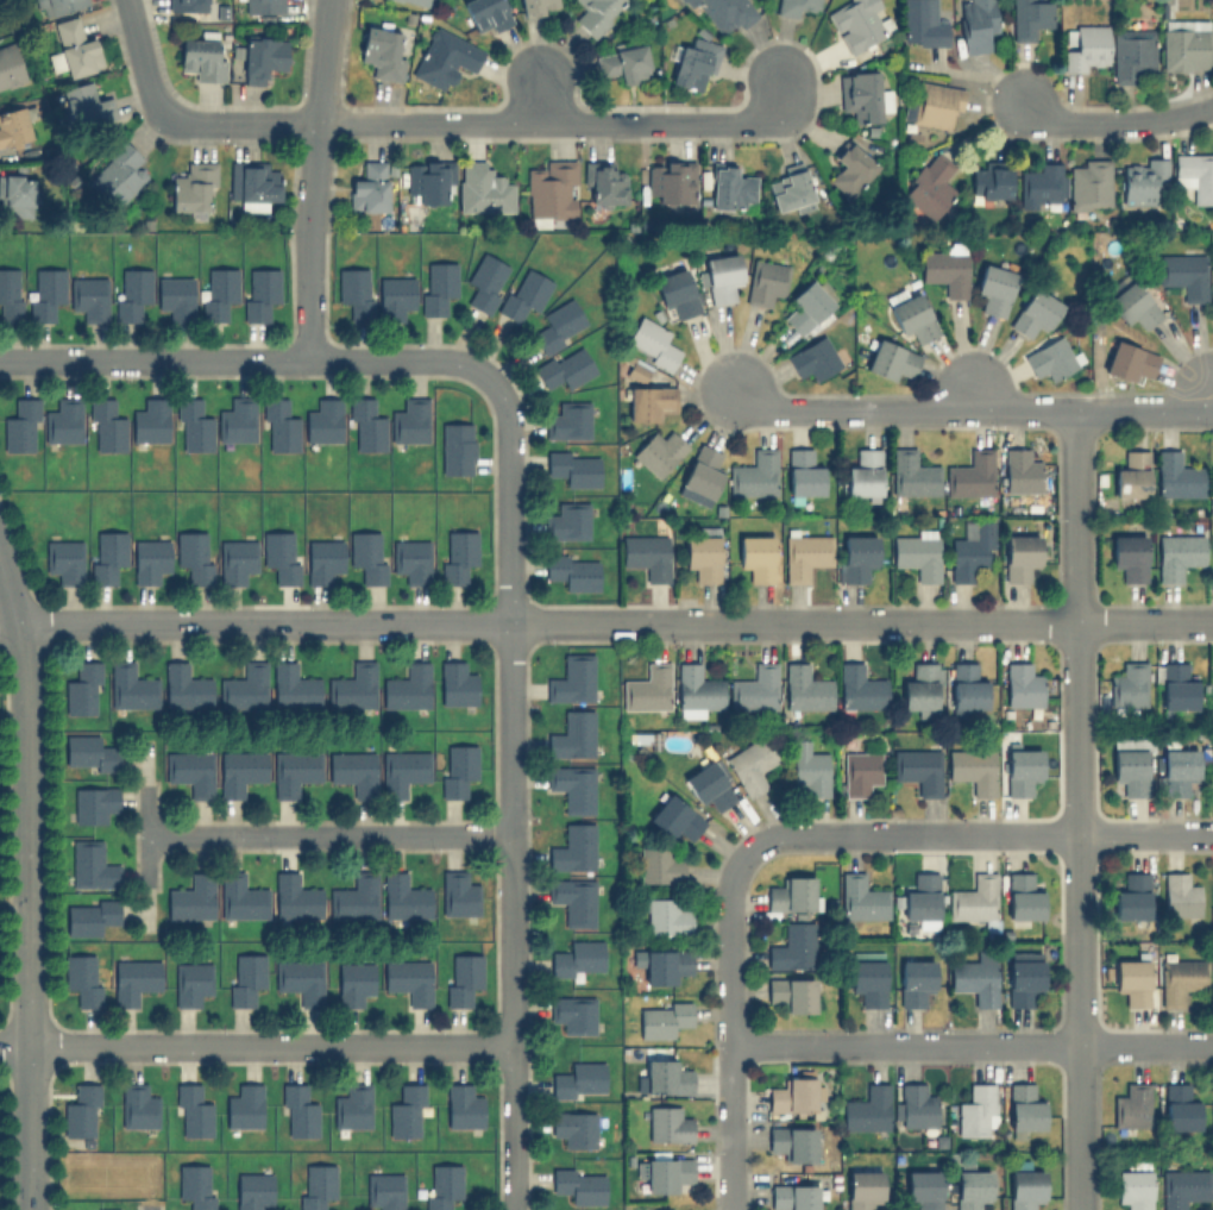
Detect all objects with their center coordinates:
building: (415, 2)
building: (686, 2)
building: (187, 5)
building: (56, 6)
building: (262, 6)
building: (538, 6)
building: (794, 6)
building: (597, 12)
building: (725, 12)
building: (486, 14)
building: (1027, 17)
building: (856, 23)
building: (922, 23)
building: (976, 24)
building: (1184, 44)
building: (1083, 46)
building: (74, 48)
building: (381, 52)
road: (140, 54)
building: (1131, 54)
building: (202, 55)
building: (262, 57)
building: (444, 57)
building: (623, 62)
building: (693, 63)
building: (11, 64)
building: (862, 95)
building: (936, 104)
building: (86, 105)
road: (232, 123)
road: (562, 123)
building: (13, 126)
road: (1121, 133)
building: (850, 168)
building: (118, 174)
building: (1194, 174)
road: (309, 178)
building: (1140, 178)
building: (428, 181)
building: (671, 181)
building: (989, 181)
building: (252, 183)
building: (1088, 183)
building: (603, 184)
building: (930, 184)
building: (1039, 184)
building: (191, 186)
building: (369, 187)
building: (731, 187)
building: (483, 188)
building: (790, 190)
building: (549, 192)
building: (15, 194)
building: (947, 269)
building: (1182, 274)
building: (719, 276)
building: (486, 281)
building: (766, 281)
building: (436, 286)
building: (993, 288)
building: (677, 290)
building: (218, 291)
building: (354, 291)
building: (45, 293)
building: (131, 293)
building: (258, 293)
building: (10, 294)
building: (524, 294)
building: (89, 295)
building: (175, 296)
building: (394, 296)
building: (1132, 302)
building: (806, 306)
building: (1035, 312)
building: (911, 314)
building: (559, 325)
building: (652, 343)
building: (1051, 357)
building: (812, 358)
road: (247, 359)
building: (890, 359)
building: (1130, 362)
building: (564, 368)
road: (970, 394)
road: (1209, 395)
building: (649, 402)
road: (901, 413)
road: (1144, 414)
building: (63, 420)
building: (150, 420)
building: (237, 420)
building: (322, 420)
building: (409, 420)
building: (567, 420)
building: (106, 425)
building: (191, 425)
building: (365, 425)
building: (20, 426)
building: (278, 426)
building: (455, 447)
building: (658, 452)
building: (573, 466)
building: (1020, 469)
building: (803, 472)
building: (865, 472)
building: (912, 472)
building: (754, 474)
building: (970, 474)
building: (1177, 475)
building: (700, 476)
building: (1131, 476)
building: (1212, 479)
building: (567, 521)
building: (970, 550)
building: (805, 552)
building: (918, 552)
building: (457, 553)
building: (703, 553)
building: (106, 554)
building: (279, 554)
building: (367, 554)
building: (646, 554)
building: (1129, 554)
building: (1177, 554)
building: (194, 556)
building: (756, 556)
building: (856, 556)
building: (1019, 556)
building: (1212, 557)
building: (64, 559)
building: (149, 559)
building: (234, 559)
building: (322, 559)
building: (411, 559)
building: (572, 570)
road: (8, 596)
road: (605, 621)
building: (571, 678)
building: (1212, 681)
building: (455, 683)
building: (1022, 684)
building: (1129, 684)
building: (131, 685)
building: (352, 685)
building: (186, 686)
building: (244, 686)
building: (294, 686)
building: (407, 686)
building: (967, 686)
building: (1176, 686)
building: (647, 688)
building: (756, 688)
building: (806, 688)
building: (861, 688)
building: (82, 689)
building: (920, 689)
building: (696, 690)
road: (510, 709)
building: (571, 733)
building: (87, 752)
building: (752, 764)
building: (1130, 764)
building: (810, 767)
building: (455, 769)
building: (918, 769)
building: (973, 769)
building: (353, 770)
building: (402, 770)
building: (1022, 770)
building: (1179, 770)
building: (190, 771)
building: (240, 771)
building: (294, 771)
building: (860, 771)
building: (708, 785)
building: (571, 788)
building: (94, 803)
road: (1079, 813)
building: (674, 817)
road: (980, 834)
road: (328, 835)
building: (572, 848)
building: (90, 865)
building: (658, 865)
building: (457, 894)
building: (790, 894)
building: (1179, 895)
building: (240, 896)
building: (295, 896)
building: (354, 896)
building: (1023, 896)
building: (1130, 896)
building: (190, 897)
building: (403, 897)
building: (861, 898)
building: (572, 899)
building: (922, 899)
building: (974, 899)
building: (89, 915)
road: (26, 916)
building: (666, 916)
building: (793, 946)
building: (577, 958)
building: (665, 965)
building: (867, 976)
building: (1023, 976)
building: (82, 977)
building: (245, 977)
building: (461, 978)
building: (975, 978)
building: (134, 979)
building: (298, 979)
building: (408, 979)
building: (1180, 979)
building: (915, 980)
building: (1132, 980)
building: (190, 983)
building: (353, 983)
building: (791, 992)
building: (573, 1012)
building: (661, 1017)
road: (734, 1028)
road: (256, 1046)
road: (973, 1046)
building: (662, 1076)
building: (578, 1080)
building: (792, 1095)
building: (137, 1105)
building: (352, 1105)
building: (463, 1105)
building: (916, 1105)
building: (1132, 1105)
building: (244, 1106)
building: (1024, 1106)
building: (1179, 1106)
building: (866, 1109)
building: (976, 1110)
building: (81, 1111)
building: (191, 1111)
building: (297, 1111)
building: (406, 1111)
building: (667, 1124)
road: (513, 1128)
building: (573, 1128)
building: (790, 1141)
building: (665, 1173)
building: (195, 1185)
building: (315, 1185)
building: (441, 1185)
building: (579, 1185)
building: (1024, 1187)
building: (1132, 1187)
building: (1183, 1187)
building: (862, 1189)
building: (923, 1189)
building: (970, 1189)
building: (252, 1190)
building: (384, 1190)
building: (793, 1193)
building: (105, 1209)
building: (670, 1209)
building: (672, 1209)
building: (690, 1209)

